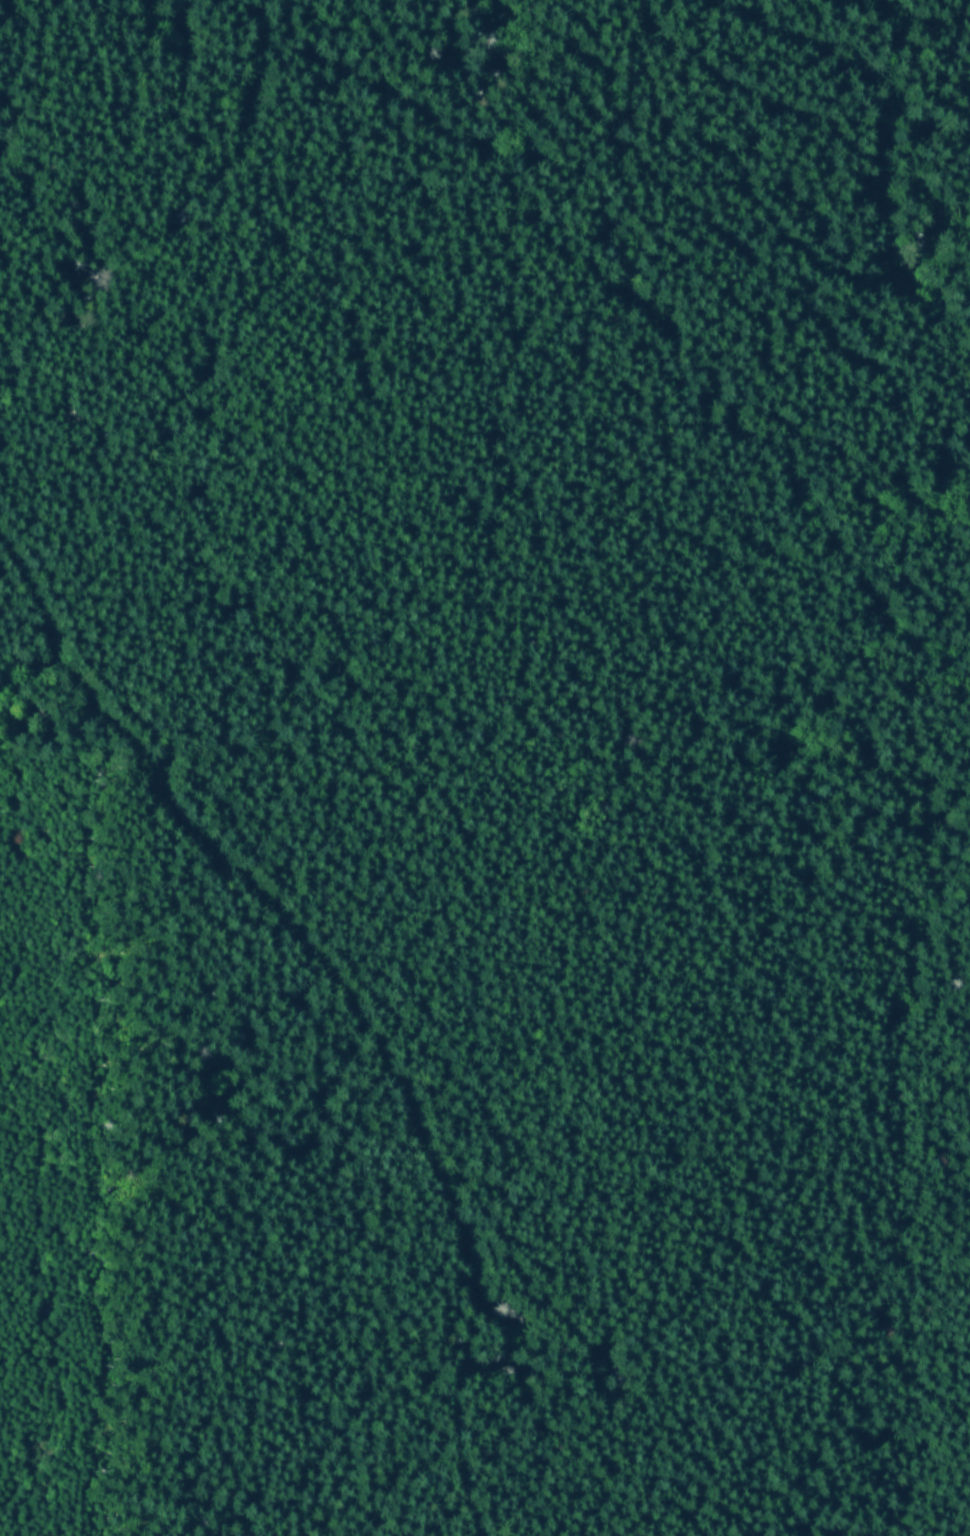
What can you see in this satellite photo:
road: (733, 226)

